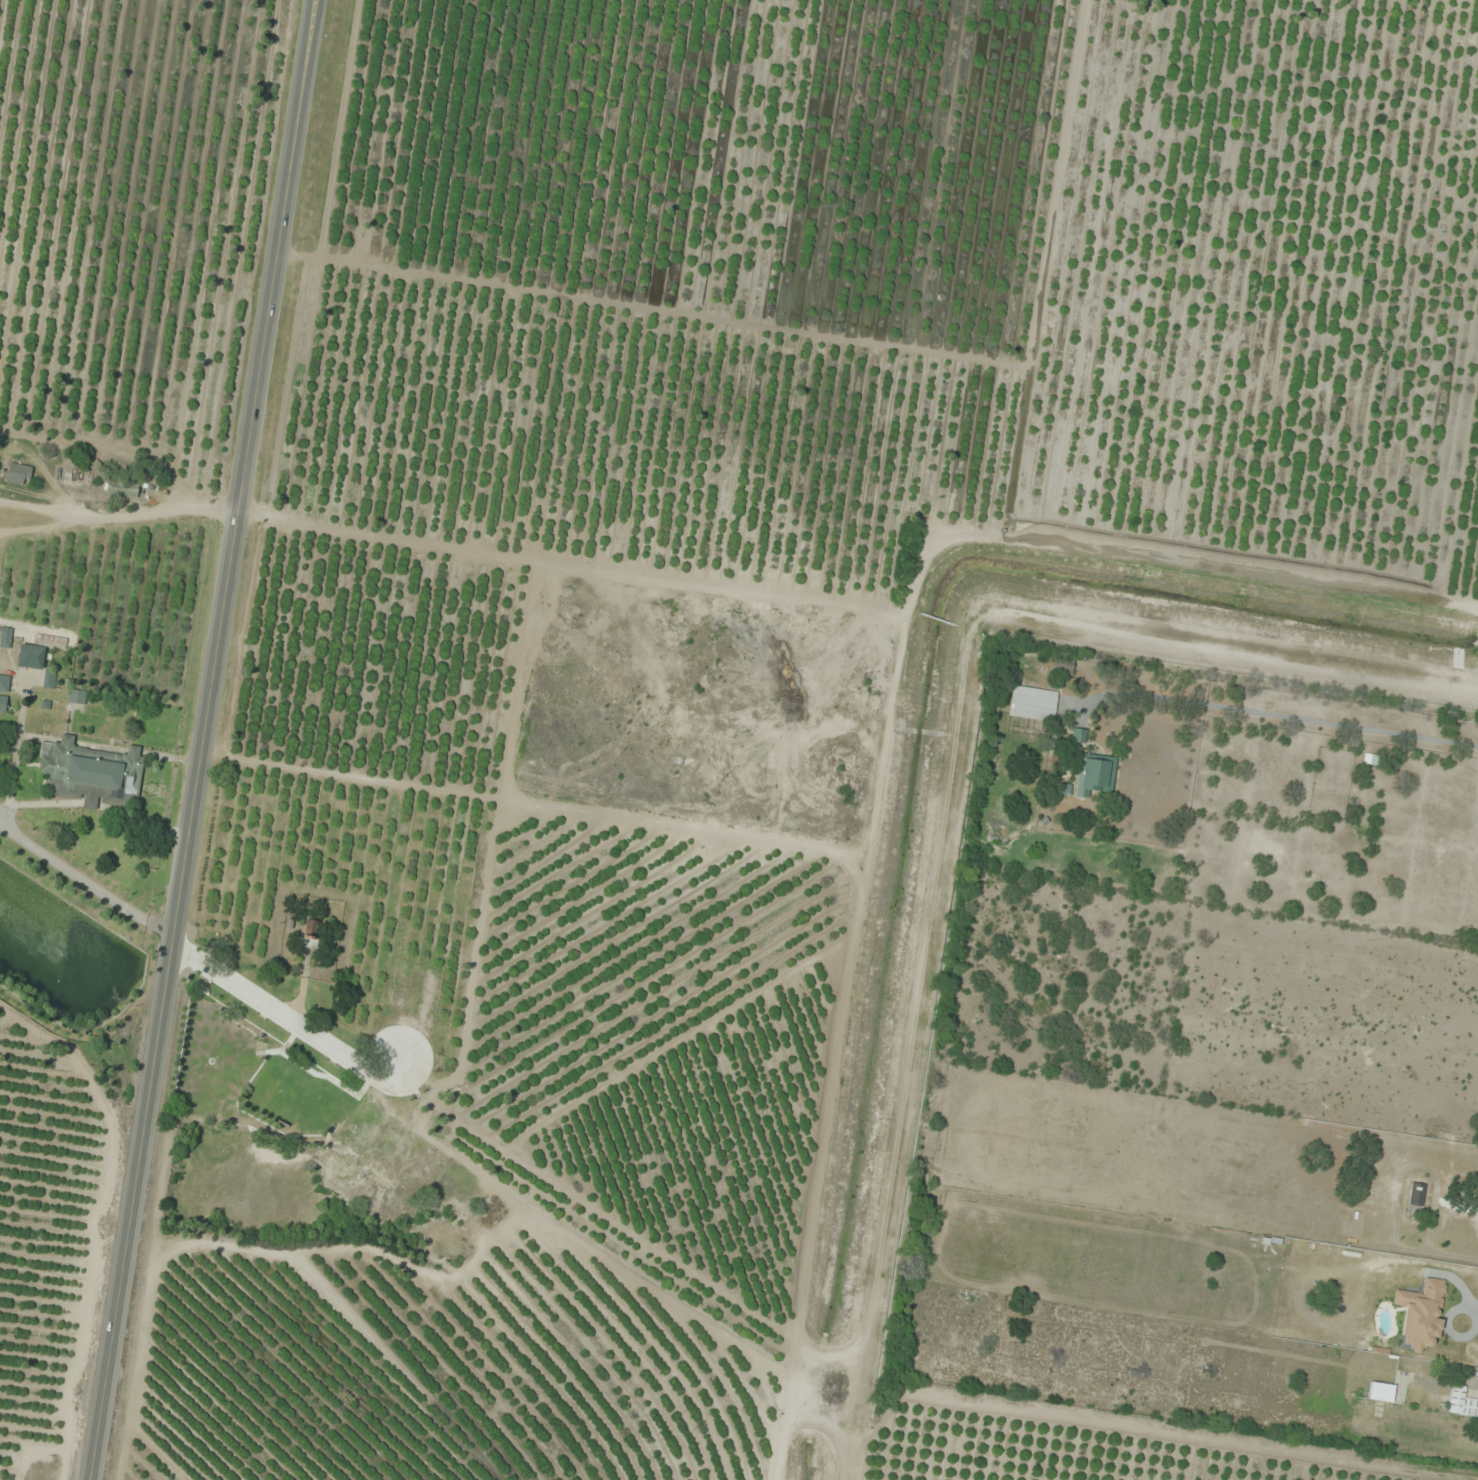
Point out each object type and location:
building: (18, 474)
building: (6, 638)
building: (38, 651)
building: (1063, 666)
building: (50, 679)
building: (4, 683)
building: (77, 697)
building: (3, 704)
building: (1033, 704)
building: (1078, 736)
road: (208, 740)
building: (92, 774)
building: (1094, 775)
road: (90, 879)
building: (311, 930)
building: (1345, 1132)
building: (1381, 1392)
building: (1462, 1404)

